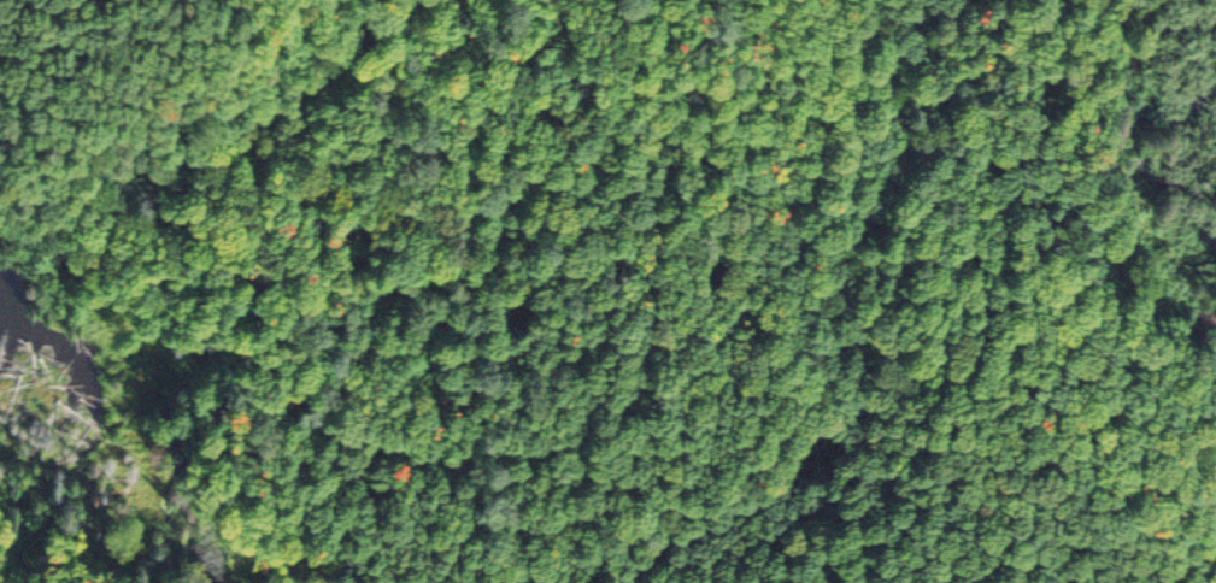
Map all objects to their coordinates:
river: (1196, 218)

